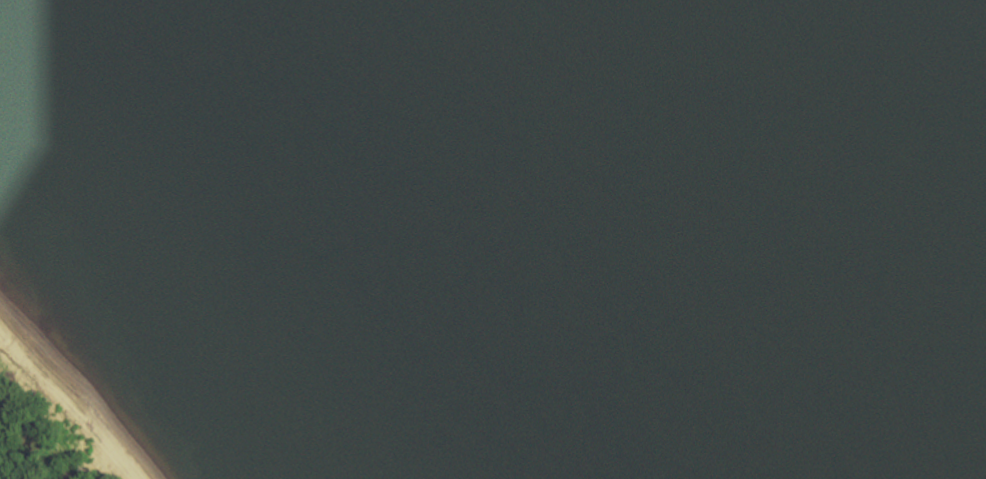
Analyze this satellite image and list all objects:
river: (471, 239)

